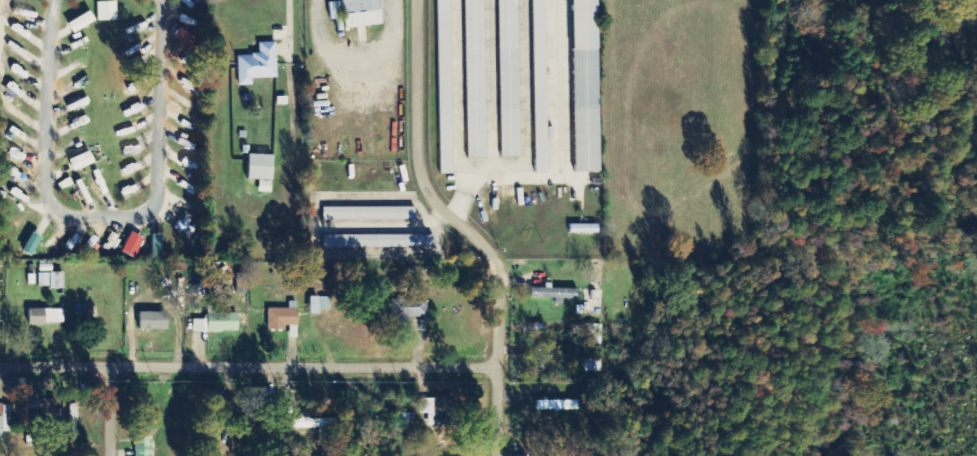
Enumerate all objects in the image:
building: (107, 12)
building: (444, 12)
building: (362, 13)
building: (82, 23)
building: (187, 39)
building: (258, 65)
building: (476, 79)
building: (541, 86)
building: (587, 86)
building: (446, 125)
building: (82, 162)
building: (262, 172)
building: (369, 214)
road: (464, 225)
building: (379, 242)
building: (32, 244)
building: (133, 246)
building: (157, 247)
building: (51, 280)
building: (556, 293)
building: (320, 304)
building: (411, 307)
building: (46, 317)
building: (283, 318)
building: (154, 321)
building: (223, 322)
building: (199, 326)
building: (593, 337)
road: (248, 365)
road: (110, 410)
building: (436, 412)
building: (5, 419)
building: (73, 420)
building: (143, 442)

